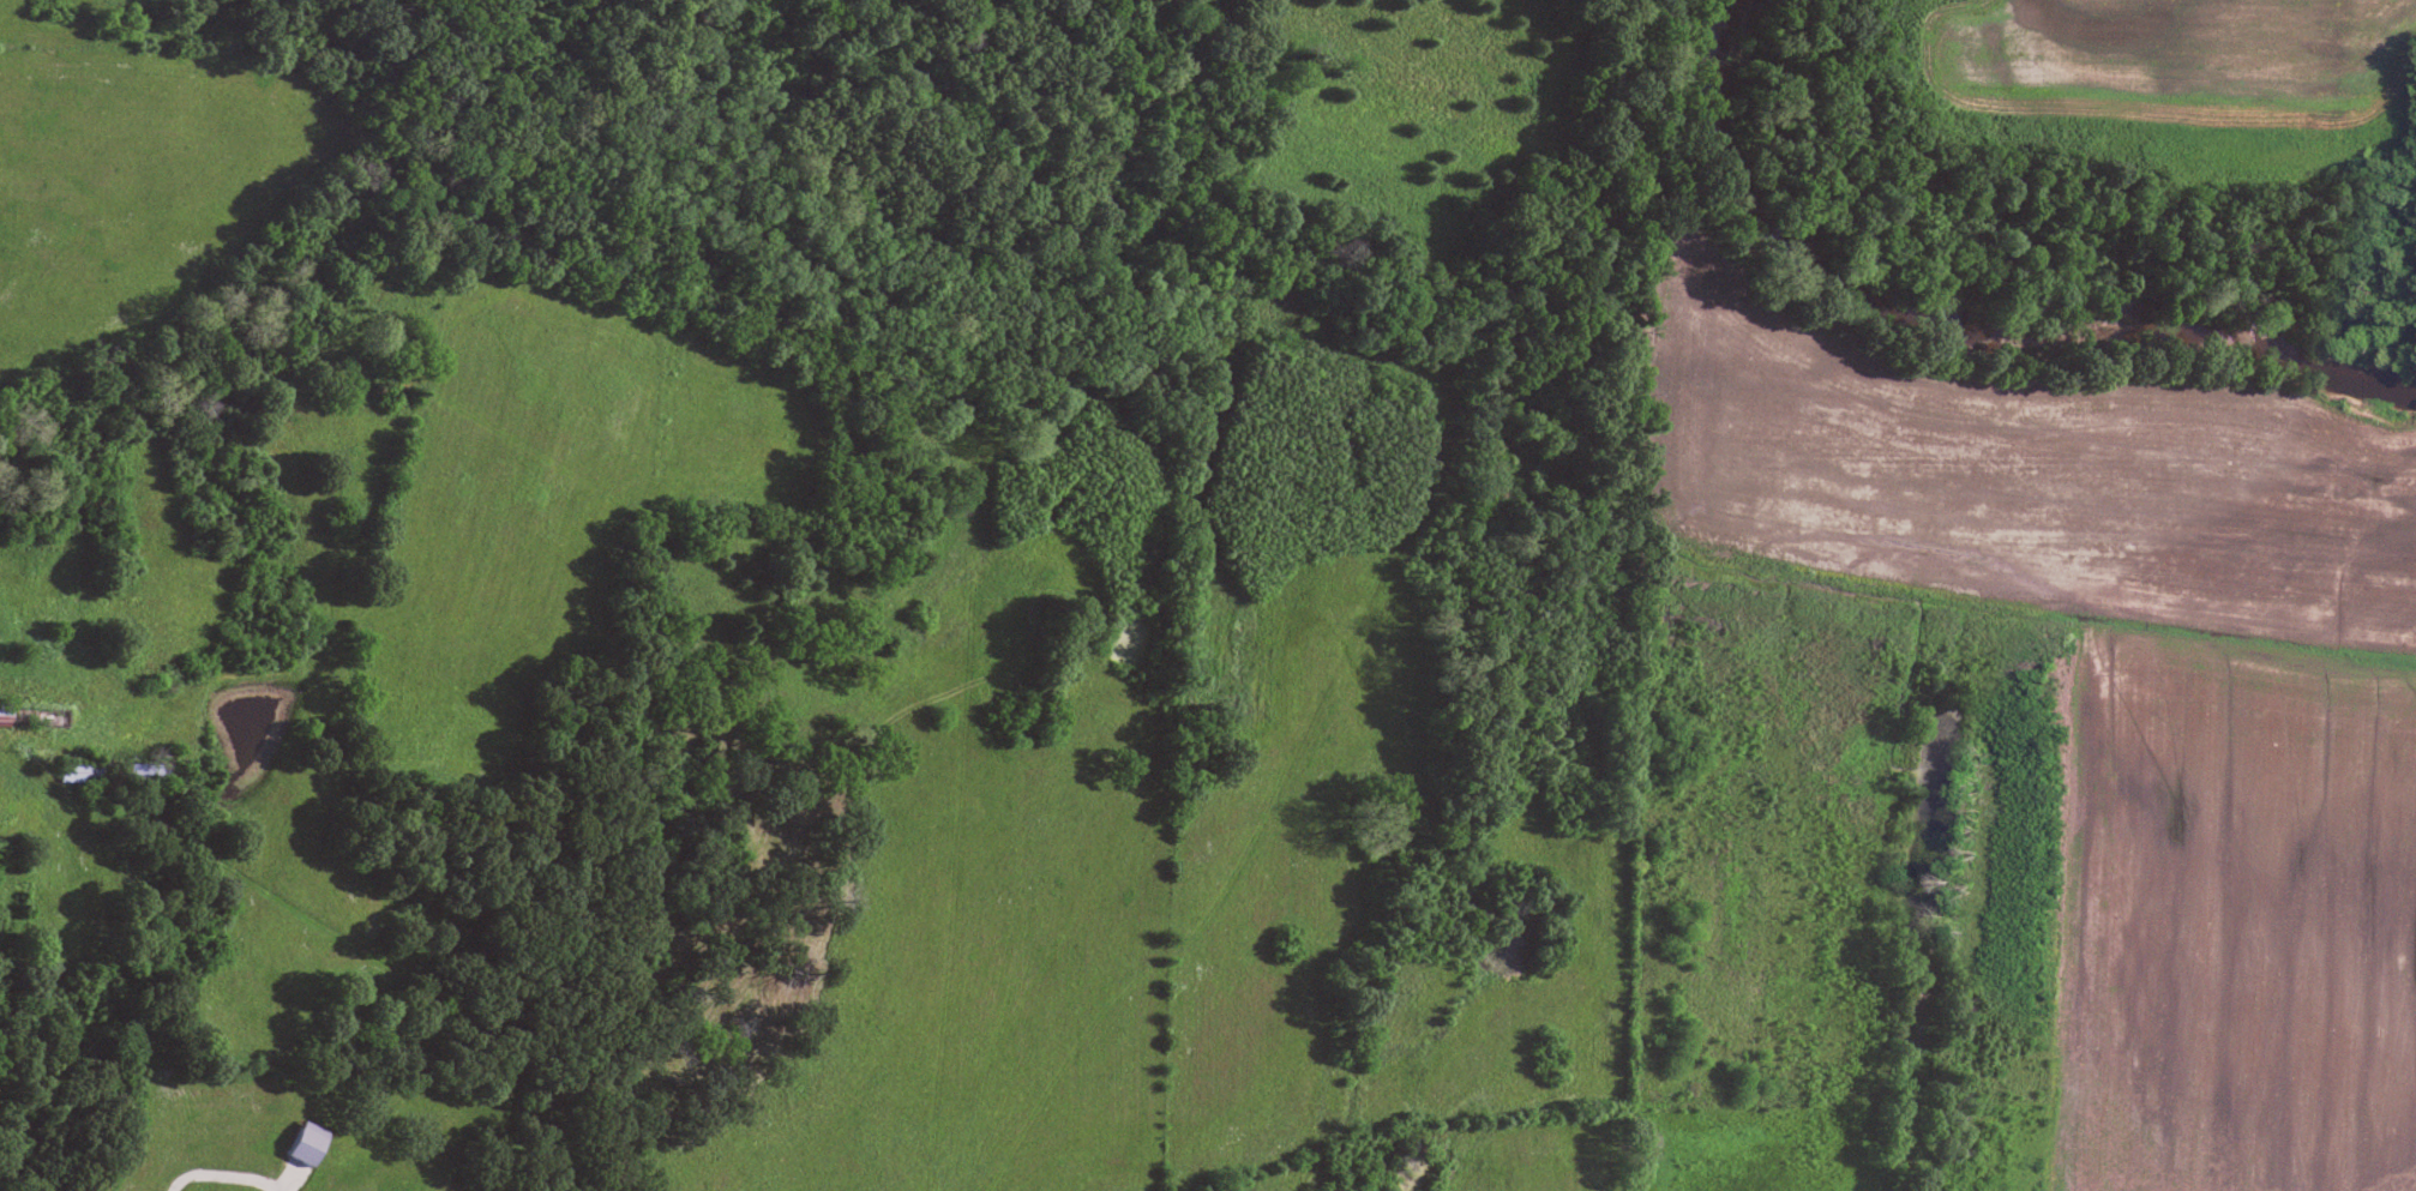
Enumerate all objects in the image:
river: (1937, 344)
building: (4, 711)
building: (114, 769)
road: (46, 783)
building: (306, 1139)
road: (223, 1172)

